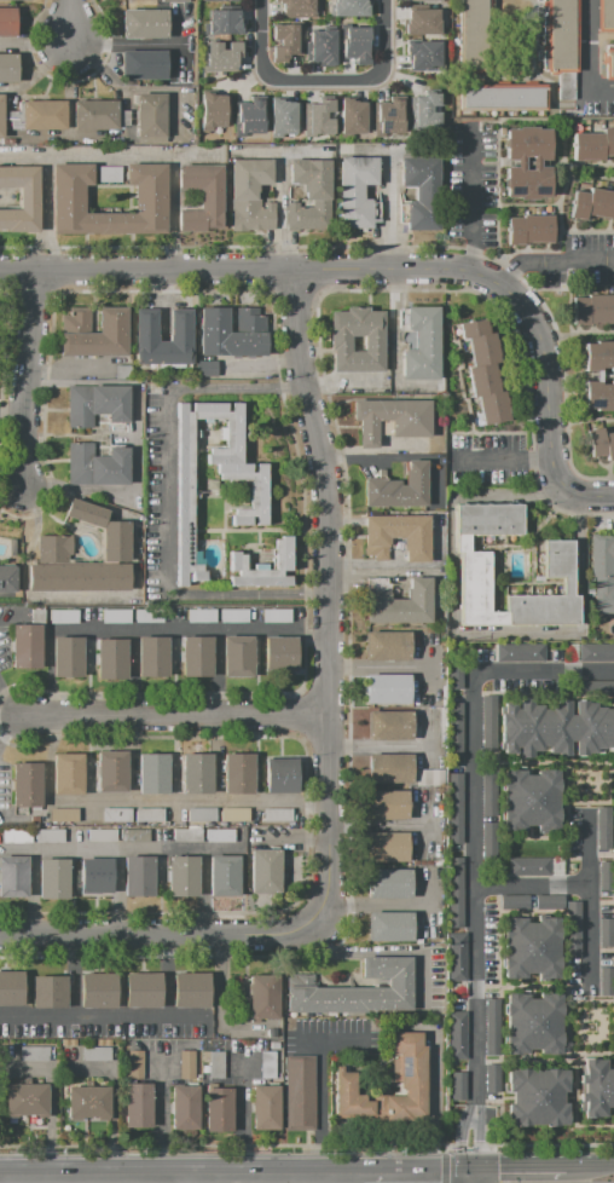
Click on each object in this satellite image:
building: (226, 0)
building: (429, 0)
building: (174, 1)
building: (349, 7)
building: (297, 8)
building: (604, 16)
building: (7, 22)
road: (73, 22)
building: (222, 22)
building: (144, 23)
building: (423, 23)
building: (558, 35)
building: (473, 36)
road: (599, 36)
building: (285, 40)
road: (267, 44)
road: (389, 44)
road: (36, 45)
road: (126, 45)
building: (357, 45)
building: (323, 46)
building: (423, 54)
building: (225, 58)
road: (585, 60)
building: (608, 63)
building: (144, 64)
building: (7, 68)
road: (102, 70)
road: (44, 71)
road: (73, 73)
road: (178, 74)
road: (329, 87)
building: (502, 98)
building: (212, 110)
building: (423, 111)
building: (98, 114)
building: (44, 115)
building: (0, 116)
building: (150, 116)
building: (250, 116)
building: (389, 116)
building: (283, 117)
building: (320, 117)
building: (354, 117)
road: (543, 119)
building: (592, 144)
road: (334, 150)
road: (103, 151)
building: (534, 162)
building: (106, 173)
road: (562, 175)
road: (589, 178)
road: (497, 189)
building: (355, 191)
building: (421, 191)
building: (249, 195)
road: (471, 195)
building: (309, 196)
building: (199, 197)
building: (21, 198)
building: (68, 200)
building: (592, 203)
road: (528, 204)
road: (44, 210)
road: (169, 210)
building: (528, 229)
road: (556, 242)
road: (552, 259)
parking lot: (577, 260)
road: (369, 270)
road: (521, 281)
building: (592, 308)
building: (112, 323)
building: (146, 324)
building: (474, 328)
road: (585, 330)
building: (232, 331)
building: (338, 342)
building: (421, 345)
building: (483, 348)
building: (205, 369)
building: (122, 371)
building: (599, 376)
building: (482, 379)
road: (24, 380)
building: (97, 404)
building: (492, 408)
building: (390, 419)
road: (589, 421)
building: (601, 443)
road: (566, 448)
parking lot: (490, 460)
road: (503, 460)
building: (95, 464)
building: (396, 486)
building: (184, 495)
road: (595, 496)
road: (545, 497)
road: (167, 510)
road: (597, 513)
road: (544, 521)
building: (104, 530)
building: (396, 535)
road: (453, 546)
road: (499, 546)
building: (292, 555)
road: (531, 559)
building: (282, 560)
road: (525, 562)
building: (475, 565)
building: (73, 570)
building: (602, 571)
building: (8, 577)
road: (502, 579)
building: (292, 582)
road: (532, 583)
road: (577, 583)
road: (324, 595)
building: (396, 601)
building: (232, 614)
building: (276, 614)
building: (36, 616)
building: (63, 616)
building: (116, 616)
building: (147, 616)
building: (201, 616)
road: (190, 628)
road: (502, 628)
road: (458, 631)
building: (387, 645)
building: (25, 646)
building: (520, 651)
building: (596, 651)
building: (279, 654)
building: (68, 656)
building: (196, 656)
building: (237, 656)
building: (153, 657)
building: (111, 658)
road: (376, 664)
building: (456, 674)
building: (592, 687)
building: (387, 688)
road: (173, 716)
road: (19, 719)
building: (488, 722)
road: (497, 723)
building: (389, 725)
building: (555, 727)
building: (454, 729)
road: (560, 762)
building: (389, 767)
building: (111, 771)
building: (66, 773)
building: (152, 773)
building: (237, 773)
building: (197, 774)
building: (280, 777)
building: (428, 777)
building: (27, 784)
building: (488, 794)
building: (531, 800)
road: (199, 801)
road: (580, 801)
building: (384, 803)
building: (454, 807)
building: (63, 814)
building: (201, 814)
building: (277, 814)
building: (116, 815)
building: (149, 815)
building: (233, 815)
road: (475, 818)
building: (603, 827)
building: (102, 835)
building: (134, 835)
building: (185, 835)
building: (220, 835)
building: (16, 836)
building: (48, 836)
road: (531, 836)
road: (564, 838)
building: (488, 842)
building: (384, 846)
road: (589, 848)
road: (606, 854)
road: (587, 856)
road: (570, 858)
building: (527, 865)
building: (265, 872)
building: (606, 875)
building: (13, 876)
building: (95, 876)
building: (138, 876)
building: (224, 876)
building: (181, 877)
building: (52, 879)
building: (388, 883)
road: (586, 883)
road: (497, 884)
road: (564, 884)
building: (456, 891)
building: (512, 901)
building: (548, 901)
road: (375, 904)
road: (531, 910)
building: (389, 924)
road: (613, 927)
building: (572, 929)
building: (606, 931)
road: (160, 935)
building: (531, 946)
road: (564, 948)
building: (456, 957)
building: (606, 981)
road: (531, 986)
building: (11, 988)
building: (98, 989)
building: (191, 989)
building: (358, 989)
building: (143, 991)
building: (48, 992)
building: (263, 997)
road: (613, 1000)
building: (533, 1023)
building: (491, 1026)
road: (498, 1027)
building: (272, 1033)
building: (456, 1034)
building: (68, 1041)
building: (103, 1043)
building: (34, 1054)
building: (95, 1054)
road: (567, 1056)
building: (213, 1063)
building: (186, 1064)
building: (267, 1066)
road: (574, 1074)
building: (409, 1077)
building: (491, 1078)
road: (319, 1086)
building: (457, 1086)
building: (596, 1087)
building: (300, 1092)
building: (137, 1093)
road: (433, 1093)
building: (537, 1096)
building: (25, 1100)
building: (87, 1102)
building: (184, 1107)
building: (265, 1107)
building: (218, 1109)
road: (242, 1118)
road: (160, 1119)
road: (462, 1142)
traffic signals: (462, 1142)
road: (479, 1142)
road: (556, 1143)
road: (215, 1144)
road: (440, 1144)
road: (467, 1144)
road: (444, 1148)
road: (444, 1167)
traffic signals: (503, 1167)
road: (517, 1167)
road: (590, 1167)
road: (181, 1179)
road: (418, 1179)
traffic signals: (440, 1179)
road: (0, 1181)
road: (180, 1181)
road: (471, 1182)
road: (475, 1182)

